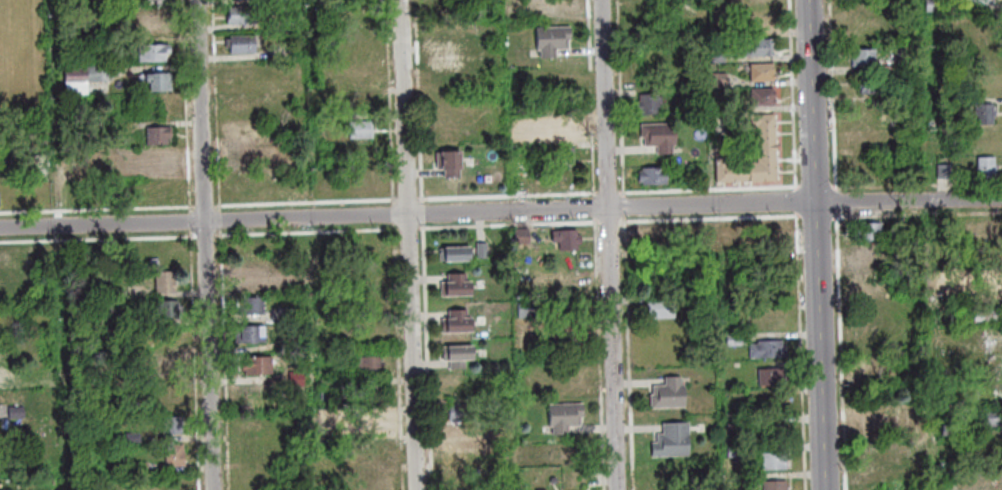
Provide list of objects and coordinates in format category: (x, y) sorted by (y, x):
building: (156, 0)
road: (234, 2)
building: (523, 2)
building: (980, 4)
building: (935, 6)
building: (559, 7)
building: (240, 18)
building: (156, 24)
building: (652, 26)
road: (228, 29)
building: (973, 37)
building: (552, 38)
building: (104, 45)
building: (241, 47)
building: (761, 50)
park: (23, 52)
building: (155, 53)
building: (721, 57)
road: (244, 58)
building: (448, 58)
building: (866, 60)
road: (419, 71)
building: (764, 75)
building: (86, 78)
building: (161, 82)
building: (722, 82)
building: (874, 87)
road: (796, 95)
road: (592, 98)
road: (622, 98)
road: (388, 100)
building: (765, 100)
building: (650, 103)
road: (217, 105)
building: (714, 105)
road: (190, 106)
building: (987, 117)
road: (378, 118)
building: (765, 124)
building: (359, 129)
building: (660, 136)
building: (161, 137)
building: (768, 141)
building: (0, 150)
building: (245, 155)
building: (561, 155)
building: (769, 157)
building: (78, 161)
building: (159, 161)
building: (450, 162)
building: (989, 170)
building: (738, 173)
road: (422, 174)
building: (769, 174)
building: (947, 174)
building: (653, 175)
building: (247, 186)
road: (810, 187)
road: (712, 190)
road: (610, 193)
road: (508, 196)
building: (0, 199)
road: (408, 200)
road: (798, 202)
road: (307, 203)
road: (206, 206)
road: (625, 206)
road: (597, 207)
road: (98, 210)
road: (500, 211)
road: (424, 214)
road: (810, 215)
road: (801, 216)
road: (222, 220)
road: (623, 220)
road: (611, 221)
road: (192, 222)
road: (513, 224)
building: (869, 230)
building: (700, 231)
road: (222, 232)
building: (765, 233)
road: (220, 235)
building: (524, 235)
building: (657, 235)
road: (207, 236)
road: (166, 237)
building: (568, 238)
road: (63, 244)
road: (207, 244)
road: (412, 244)
road: (611, 245)
road: (819, 245)
building: (482, 250)
building: (455, 254)
building: (868, 255)
road: (223, 264)
building: (250, 275)
building: (292, 280)
building: (165, 282)
building: (985, 283)
building: (457, 285)
building: (962, 302)
building: (252, 306)
building: (170, 309)
building: (527, 309)
building: (662, 309)
building: (989, 313)
building: (295, 314)
building: (127, 319)
building: (458, 321)
building: (251, 334)
building: (567, 336)
building: (734, 340)
building: (991, 341)
building: (299, 345)
building: (768, 349)
road: (631, 351)
road: (802, 351)
road: (601, 354)
building: (459, 355)
road: (428, 356)
road: (196, 360)
building: (260, 365)
building: (172, 366)
building: (368, 366)
building: (772, 377)
building: (297, 378)
building: (127, 380)
building: (10, 381)
building: (330, 389)
road: (227, 391)
building: (669, 393)
building: (168, 394)
building: (374, 395)
building: (493, 404)
building: (17, 412)
building: (463, 412)
building: (565, 416)
building: (991, 416)
building: (874, 418)
building: (373, 423)
building: (172, 425)
building: (951, 430)
building: (458, 434)
building: (774, 434)
building: (134, 437)
building: (673, 440)
building: (879, 451)
building: (735, 453)
building: (174, 454)
building: (564, 456)
building: (774, 462)
building: (139, 467)
building: (776, 486)

